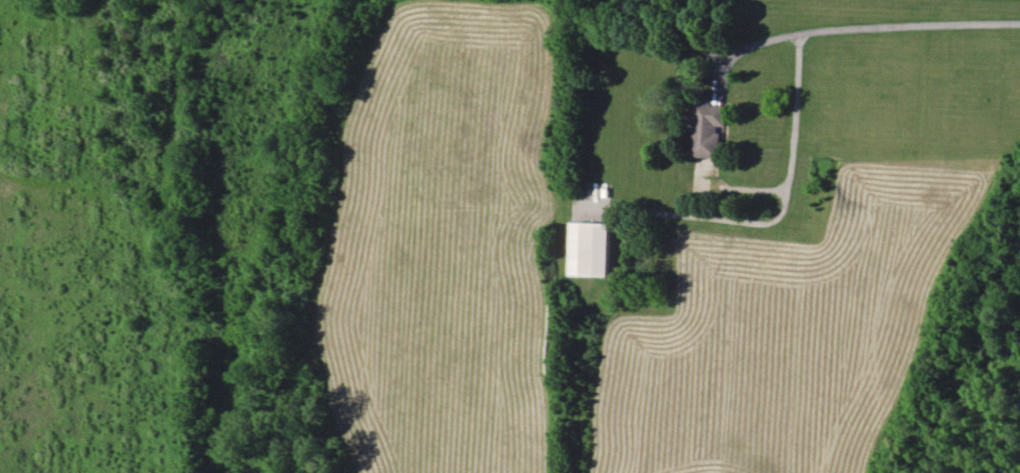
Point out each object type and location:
road: (865, 18)
building: (710, 130)
road: (786, 169)
building: (591, 249)

